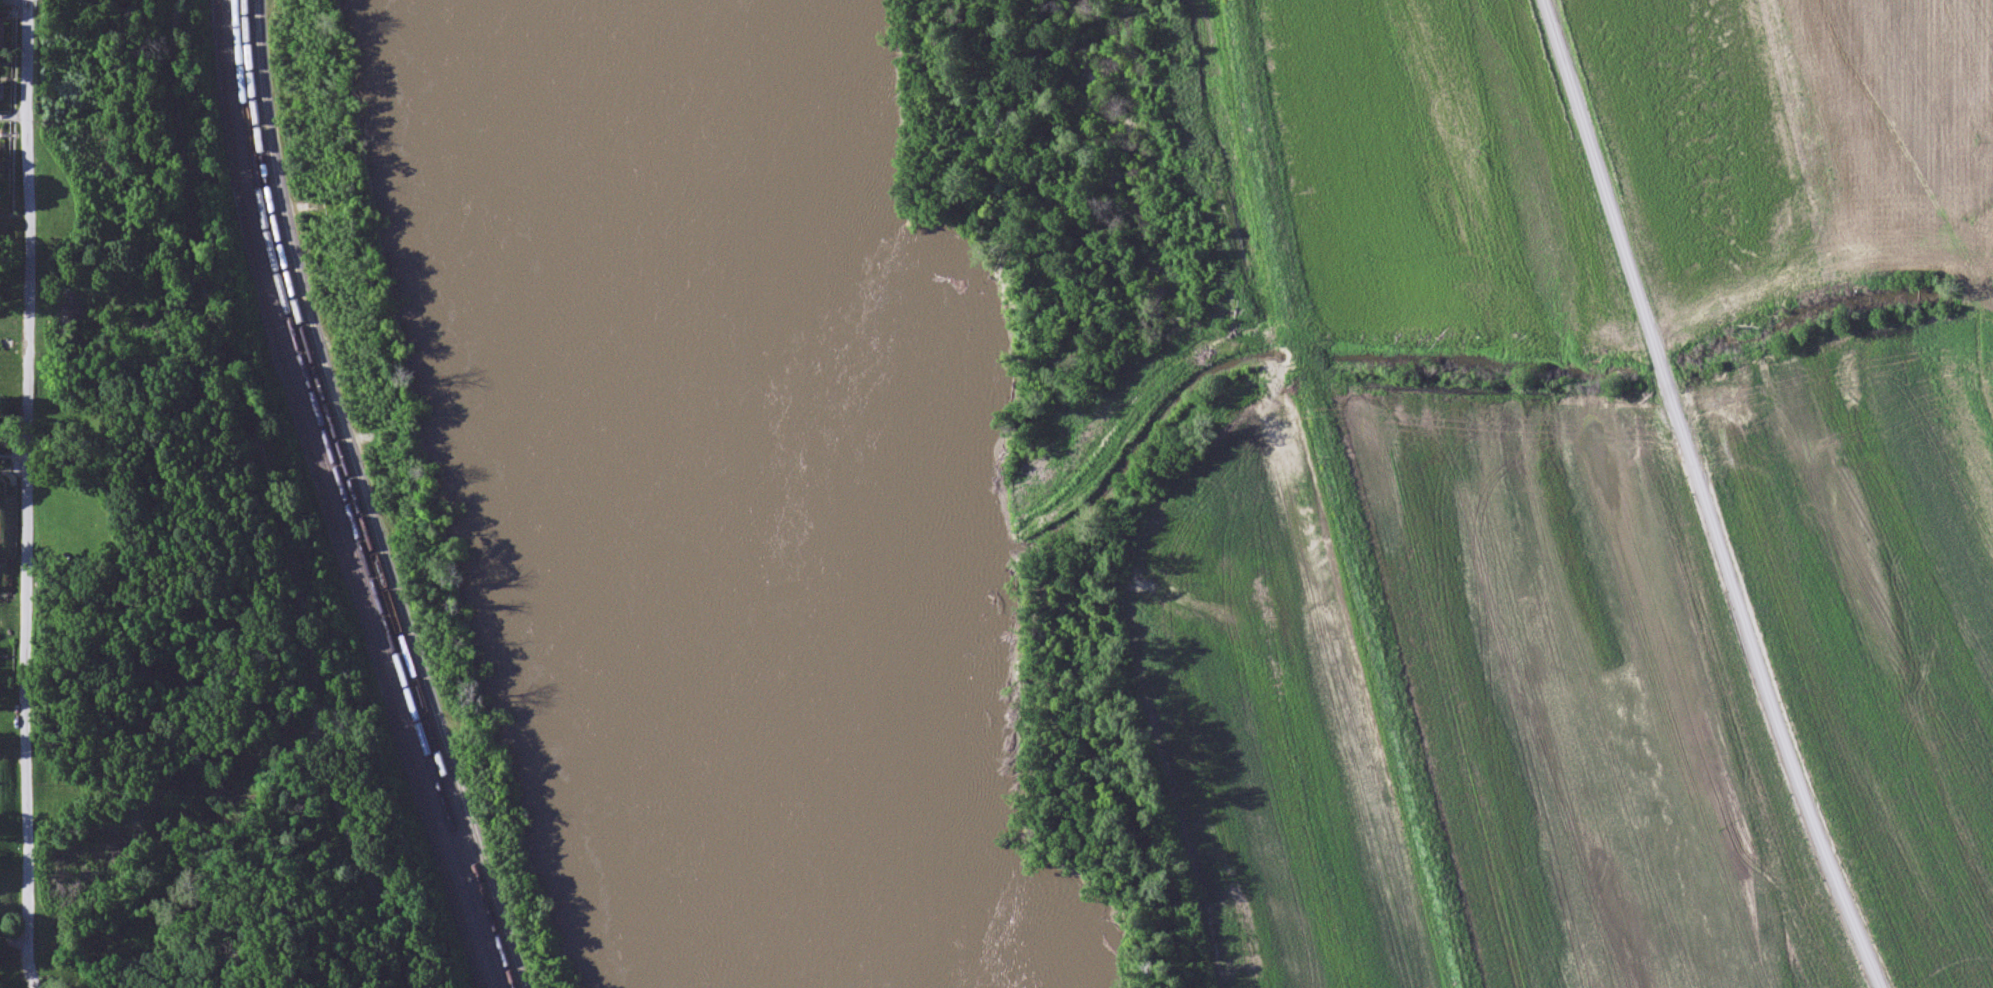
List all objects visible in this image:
building: (5, 39)
building: (4, 91)
building: (2, 164)
road: (27, 494)
road: (275, 497)
river: (713, 497)
road: (1705, 497)
railway: (326, 499)
railway: (336, 499)
railway: (347, 499)
railway: (357, 499)

